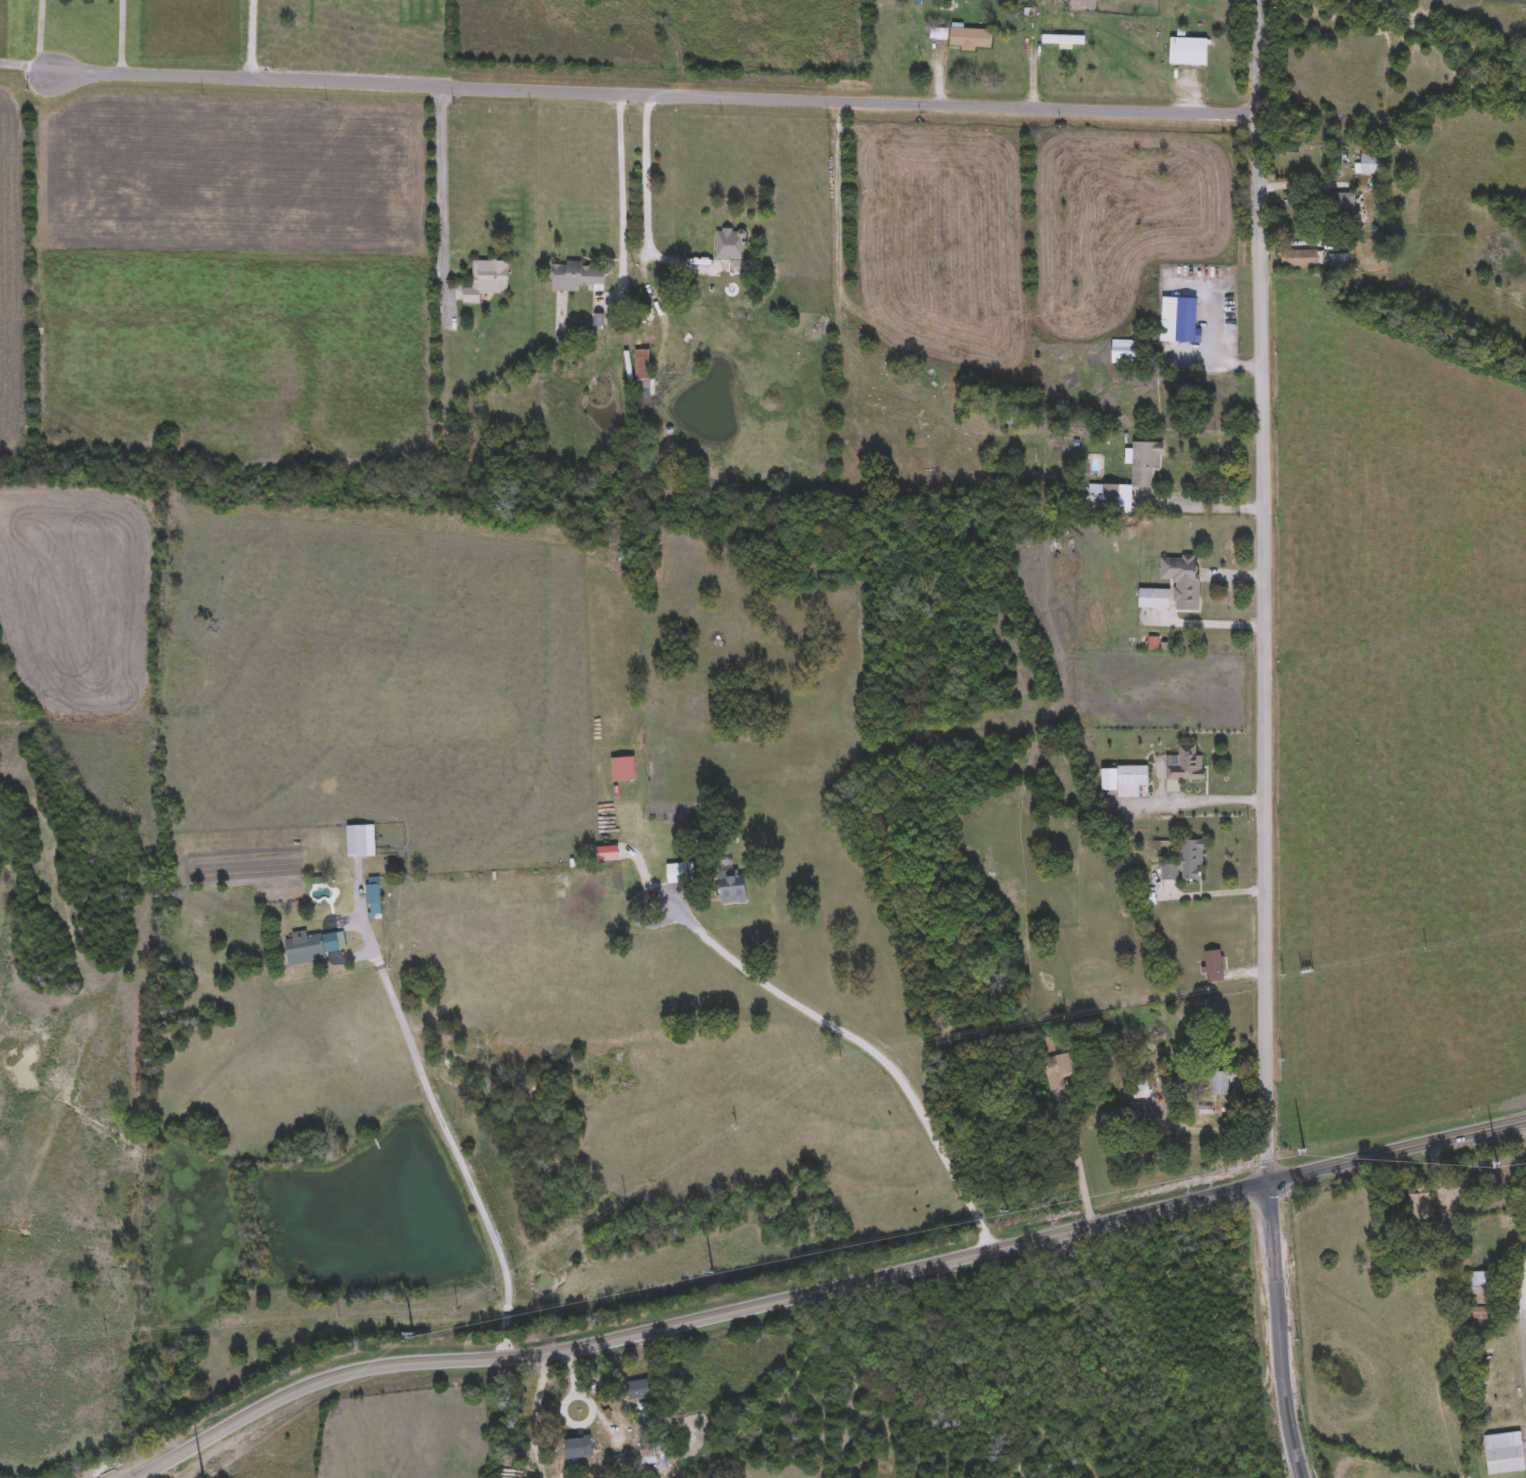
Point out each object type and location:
road: (39, 34)
road: (120, 35)
road: (252, 37)
building: (970, 39)
building: (1063, 40)
building: (1189, 52)
road: (629, 90)
building: (1370, 162)
road: (619, 178)
road: (443, 194)
road: (644, 196)
building: (1343, 204)
building: (730, 244)
building: (1299, 259)
building: (1341, 262)
building: (576, 276)
building: (486, 279)
building: (1186, 319)
road: (1216, 324)
building: (1124, 352)
building: (642, 373)
building: (1144, 463)
building: (1104, 494)
road: (1213, 510)
building: (1182, 580)
road: (1265, 591)
building: (1154, 599)
road: (1209, 625)
building: (1185, 766)
building: (623, 769)
road: (1212, 802)
building: (360, 841)
building: (1191, 860)
building: (1170, 873)
building: (679, 874)
building: (733, 887)
road: (1216, 893)
building: (373, 896)
building: (1002, 925)
building: (312, 947)
building: (1213, 962)
road: (867, 1051)
building: (1062, 1069)
building: (1220, 1084)
building: (1141, 1090)
road: (444, 1127)
road: (1210, 1132)
road: (1078, 1172)
building: (1419, 1203)
building: (1479, 1279)
road: (823, 1290)
road: (1522, 1309)
road: (1279, 1317)
road: (505, 1324)
road: (502, 1348)
road: (572, 1372)
building: (638, 1390)
road: (564, 1414)
building: (579, 1448)
building: (651, 1452)
building: (1505, 1454)
road: (1298, 1465)

